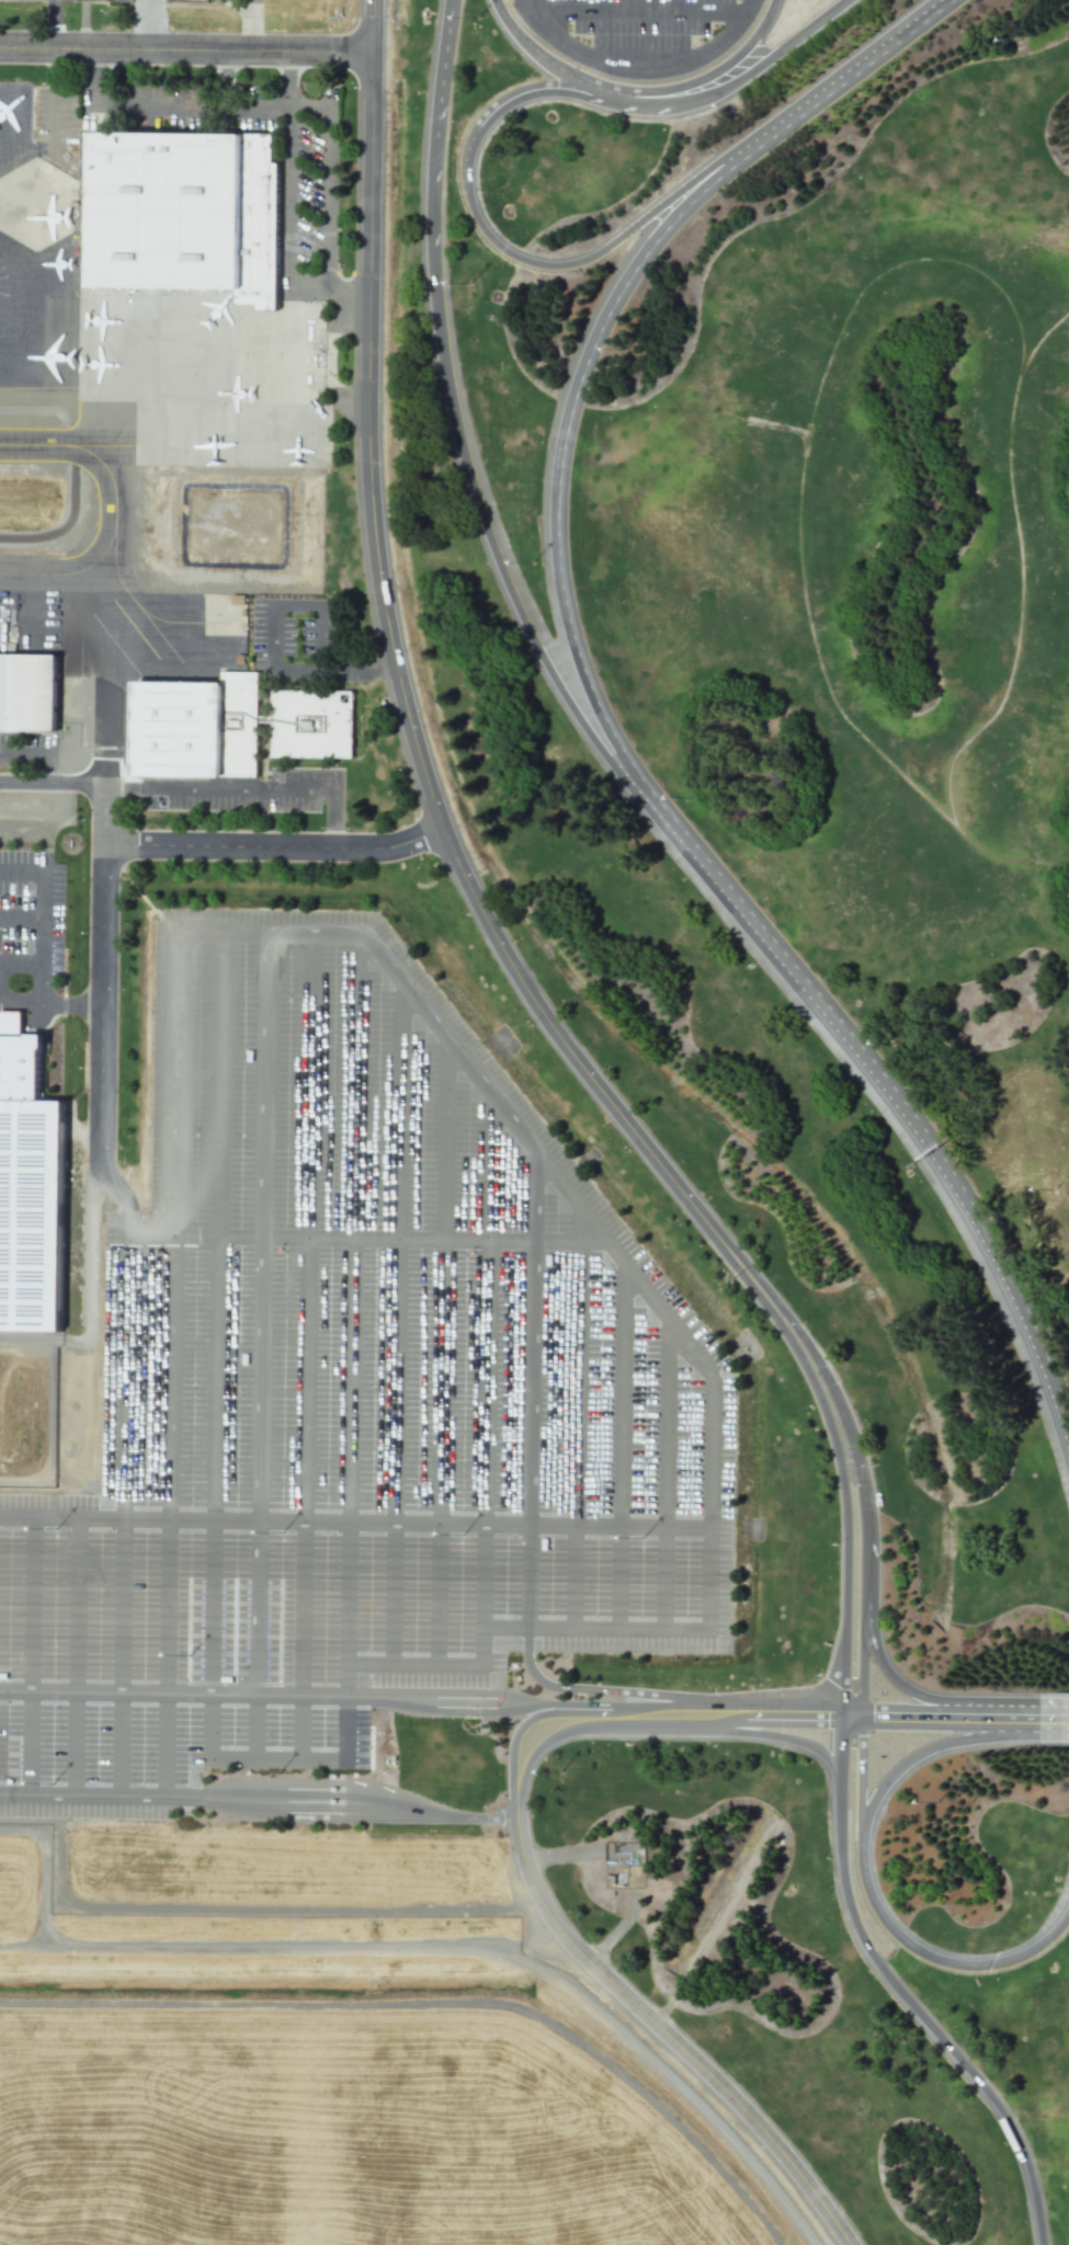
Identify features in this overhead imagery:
parking lot: (251, 2)
road: (641, 8)
road: (236, 10)
road: (252, 26)
parking lot: (641, 37)
road: (185, 52)
road: (640, 69)
road: (710, 76)
road: (93, 77)
road: (288, 79)
road: (846, 80)
road: (530, 89)
road: (666, 102)
road: (281, 104)
road: (309, 106)
road: (435, 135)
road: (329, 186)
building: (184, 214)
road: (567, 265)
road: (327, 276)
road: (320, 286)
road: (359, 306)
airport apron: (143, 342)
road: (328, 371)
airport taxiway: (100, 448)
road: (560, 452)
airport taxiway: (113, 494)
road: (491, 547)
airport taxiway: (67, 577)
airport apron: (96, 639)
road: (372, 672)
building: (27, 694)
building: (311, 723)
building: (196, 727)
road: (84, 780)
road: (428, 787)
railway: (602, 831)
road: (274, 848)
road: (46, 893)
road: (23, 915)
road: (270, 936)
road: (23, 961)
road: (23, 1004)
road: (102, 1004)
road: (52, 1005)
road: (887, 1093)
airport: (534, 1122)
road: (114, 1187)
building: (30, 1195)
road: (171, 1226)
road: (215, 1228)
road: (261, 1228)
road: (308, 1229)
road: (357, 1230)
road: (368, 1239)
road: (624, 1256)
road: (90, 1273)
road: (398, 1327)
road: (30, 1342)
road: (442, 1352)
parking lot: (366, 1364)
road: (125, 1376)
road: (485, 1378)
road: (572, 1413)
road: (621, 1447)
road: (672, 1479)
road: (528, 1495)
road: (62, 1517)
road: (418, 1523)
road: (867, 1580)
road: (843, 1588)
road: (350, 1594)
road: (209, 1598)
road: (259, 1599)
road: (35, 1603)
road: (82, 1603)
road: (123, 1604)
road: (166, 1604)
road: (304, 1606)
road: (596, 1634)
road: (413, 1667)
road: (348, 1679)
road: (4, 1687)
road: (178, 1689)
road: (3, 1691)
road: (909, 1691)
road: (18, 1693)
road: (186, 1696)
road: (376, 1699)
road: (466, 1701)
road: (747, 1703)
road: (589, 1705)
road: (875, 1708)
road: (948, 1709)
road: (544, 1714)
road: (862, 1714)
road: (1001, 1716)
road: (769, 1719)
road: (1027, 1722)
road: (1054, 1723)
road: (211, 1725)
road: (928, 1725)
road: (257, 1727)
road: (305, 1727)
road: (672, 1727)
road: (345, 1728)
road: (557, 1734)
road: (781, 1736)
parking lot: (164, 1743)
road: (29, 1745)
road: (73, 1745)
road: (122, 1746)
road: (166, 1747)
road: (925, 1750)
road: (278, 1755)
road: (862, 1770)
road: (81, 1798)
road: (182, 1799)
road: (283, 1800)
road: (408, 1810)
road: (482, 1820)
road: (561, 1858)
road: (616, 1933)
road: (539, 1941)
road: (243, 1946)
road: (502, 1946)
road: (926, 1956)
road: (900, 1996)
road: (662, 2033)

